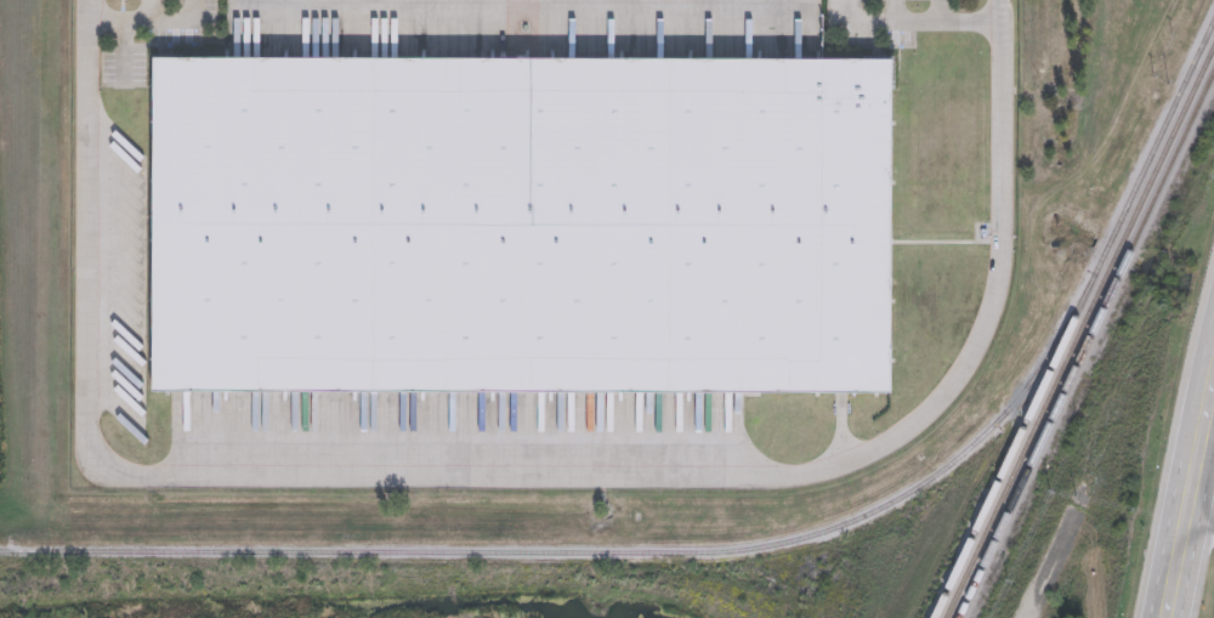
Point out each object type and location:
road: (148, 10)
road: (897, 10)
road: (937, 10)
road: (841, 11)
road: (119, 19)
road: (968, 19)
road: (183, 21)
road: (889, 21)
railway: (1162, 132)
railway: (1165, 149)
railway: (1173, 161)
building: (517, 225)
railway: (1107, 251)
railway: (1113, 257)
railway: (1127, 261)
railway: (1017, 440)
railway: (1027, 441)
railway: (1043, 444)
road: (503, 476)
road: (1189, 498)
road: (1198, 532)
railway: (585, 552)

